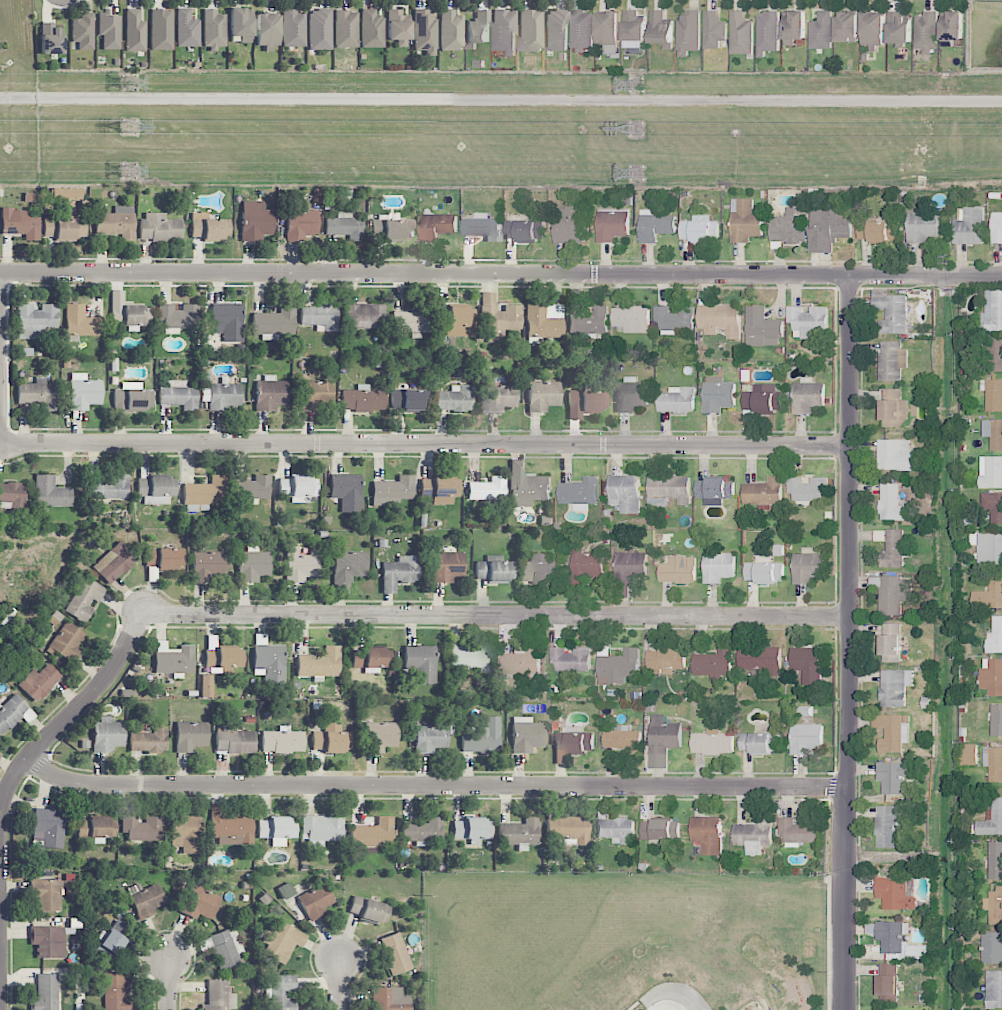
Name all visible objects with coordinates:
building: (241, 24)
building: (398, 25)
building: (634, 26)
building: (793, 26)
building: (951, 26)
building: (846, 27)
building: (293, 28)
building: (609, 28)
building: (898, 28)
building: (161, 29)
building: (187, 29)
building: (214, 29)
building: (319, 29)
building: (345, 29)
building: (371, 29)
building: (661, 29)
building: (267, 30)
building: (478, 30)
building: (556, 30)
building: (582, 30)
building: (713, 30)
building: (83, 31)
building: (109, 31)
building: (135, 31)
building: (451, 31)
building: (504, 31)
building: (530, 31)
building: (768, 31)
building: (821, 31)
building: (925, 31)
building: (425, 32)
building: (688, 32)
building: (740, 33)
building: (50, 40)
power tower: (128, 83)
power tower: (637, 85)
road: (501, 99)
power tower: (131, 127)
power tower: (635, 129)
power tower: (130, 172)
power tower: (636, 173)
building: (745, 220)
building: (255, 221)
building: (116, 223)
building: (301, 224)
building: (570, 224)
building: (612, 224)
building: (19, 225)
building: (345, 226)
building: (437, 226)
building: (655, 226)
building: (970, 226)
building: (159, 227)
building: (482, 227)
building: (789, 227)
building: (829, 227)
building: (922, 227)
building: (996, 227)
building: (64, 228)
building: (209, 228)
building: (392, 229)
building: (700, 229)
building: (523, 230)
building: (878, 231)
road: (500, 274)
building: (992, 311)
building: (127, 312)
building: (891, 312)
building: (364, 316)
building: (498, 316)
building: (586, 316)
building: (178, 317)
building: (320, 317)
building: (674, 318)
building: (631, 319)
building: (721, 319)
building: (36, 320)
building: (227, 321)
building: (544, 321)
building: (807, 321)
building: (81, 322)
building: (412, 322)
building: (455, 322)
building: (275, 323)
building: (762, 328)
building: (994, 354)
building: (892, 360)
building: (131, 385)
building: (84, 392)
building: (315, 393)
building: (37, 394)
building: (270, 394)
building: (499, 394)
building: (631, 394)
building: (718, 394)
building: (179, 395)
building: (807, 395)
building: (994, 395)
building: (221, 396)
building: (543, 396)
building: (133, 399)
building: (455, 399)
building: (762, 399)
building: (362, 400)
building: (409, 400)
building: (677, 400)
building: (585, 402)
building: (892, 407)
building: (993, 432)
road: (425, 444)
building: (896, 455)
building: (990, 472)
building: (527, 486)
building: (440, 487)
building: (109, 488)
building: (255, 488)
building: (298, 488)
building: (670, 488)
building: (808, 488)
building: (487, 489)
building: (714, 490)
building: (346, 491)
building: (392, 491)
building: (51, 492)
building: (205, 492)
building: (764, 492)
building: (579, 493)
building: (625, 493)
building: (12, 495)
building: (891, 502)
building: (993, 506)
building: (989, 548)
building: (892, 549)
building: (165, 558)
building: (114, 562)
building: (631, 563)
building: (208, 565)
building: (301, 565)
building: (586, 565)
building: (253, 566)
building: (349, 566)
building: (446, 566)
building: (718, 566)
building: (808, 566)
building: (540, 569)
building: (678, 569)
building: (494, 571)
building: (764, 571)
building: (400, 572)
building: (989, 593)
building: (893, 594)
building: (84, 600)
road: (497, 615)
building: (995, 636)
building: (890, 639)
building: (68, 642)
road: (850, 642)
building: (224, 657)
building: (372, 658)
building: (472, 658)
building: (173, 659)
building: (570, 659)
building: (760, 659)
building: (665, 660)
building: (268, 661)
building: (521, 662)
building: (319, 663)
building: (421, 663)
building: (714, 664)
building: (807, 664)
building: (618, 667)
building: (992, 676)
building: (39, 682)
building: (207, 686)
building: (895, 687)
building: (11, 712)
building: (996, 720)
road: (64, 722)
building: (893, 732)
building: (107, 734)
building: (527, 735)
building: (190, 736)
building: (379, 737)
building: (430, 738)
building: (483, 738)
building: (622, 738)
building: (806, 738)
building: (331, 739)
building: (149, 740)
building: (663, 740)
building: (282, 741)
building: (235, 742)
building: (712, 742)
building: (759, 742)
building: (572, 745)
building: (969, 754)
building: (993, 763)
building: (894, 776)
road: (434, 788)
building: (991, 819)
building: (889, 825)
building: (49, 826)
building: (142, 827)
building: (230, 827)
building: (96, 829)
building: (321, 829)
building: (472, 829)
building: (568, 829)
building: (658, 829)
building: (277, 830)
building: (423, 830)
building: (617, 830)
building: (798, 831)
building: (184, 833)
building: (372, 834)
building: (707, 834)
building: (754, 836)
building: (995, 860)
building: (895, 893)
building: (47, 894)
building: (146, 900)
building: (315, 902)
building: (200, 903)
building: (994, 906)
building: (370, 909)
building: (896, 940)
building: (48, 941)
building: (113, 941)
building: (282, 941)
building: (991, 947)
building: (224, 951)
building: (395, 953)
building: (887, 982)
road: (340, 983)
road: (169, 986)
building: (994, 988)
building: (116, 992)
building: (283, 992)
building: (45, 993)
building: (219, 996)
building: (390, 999)

